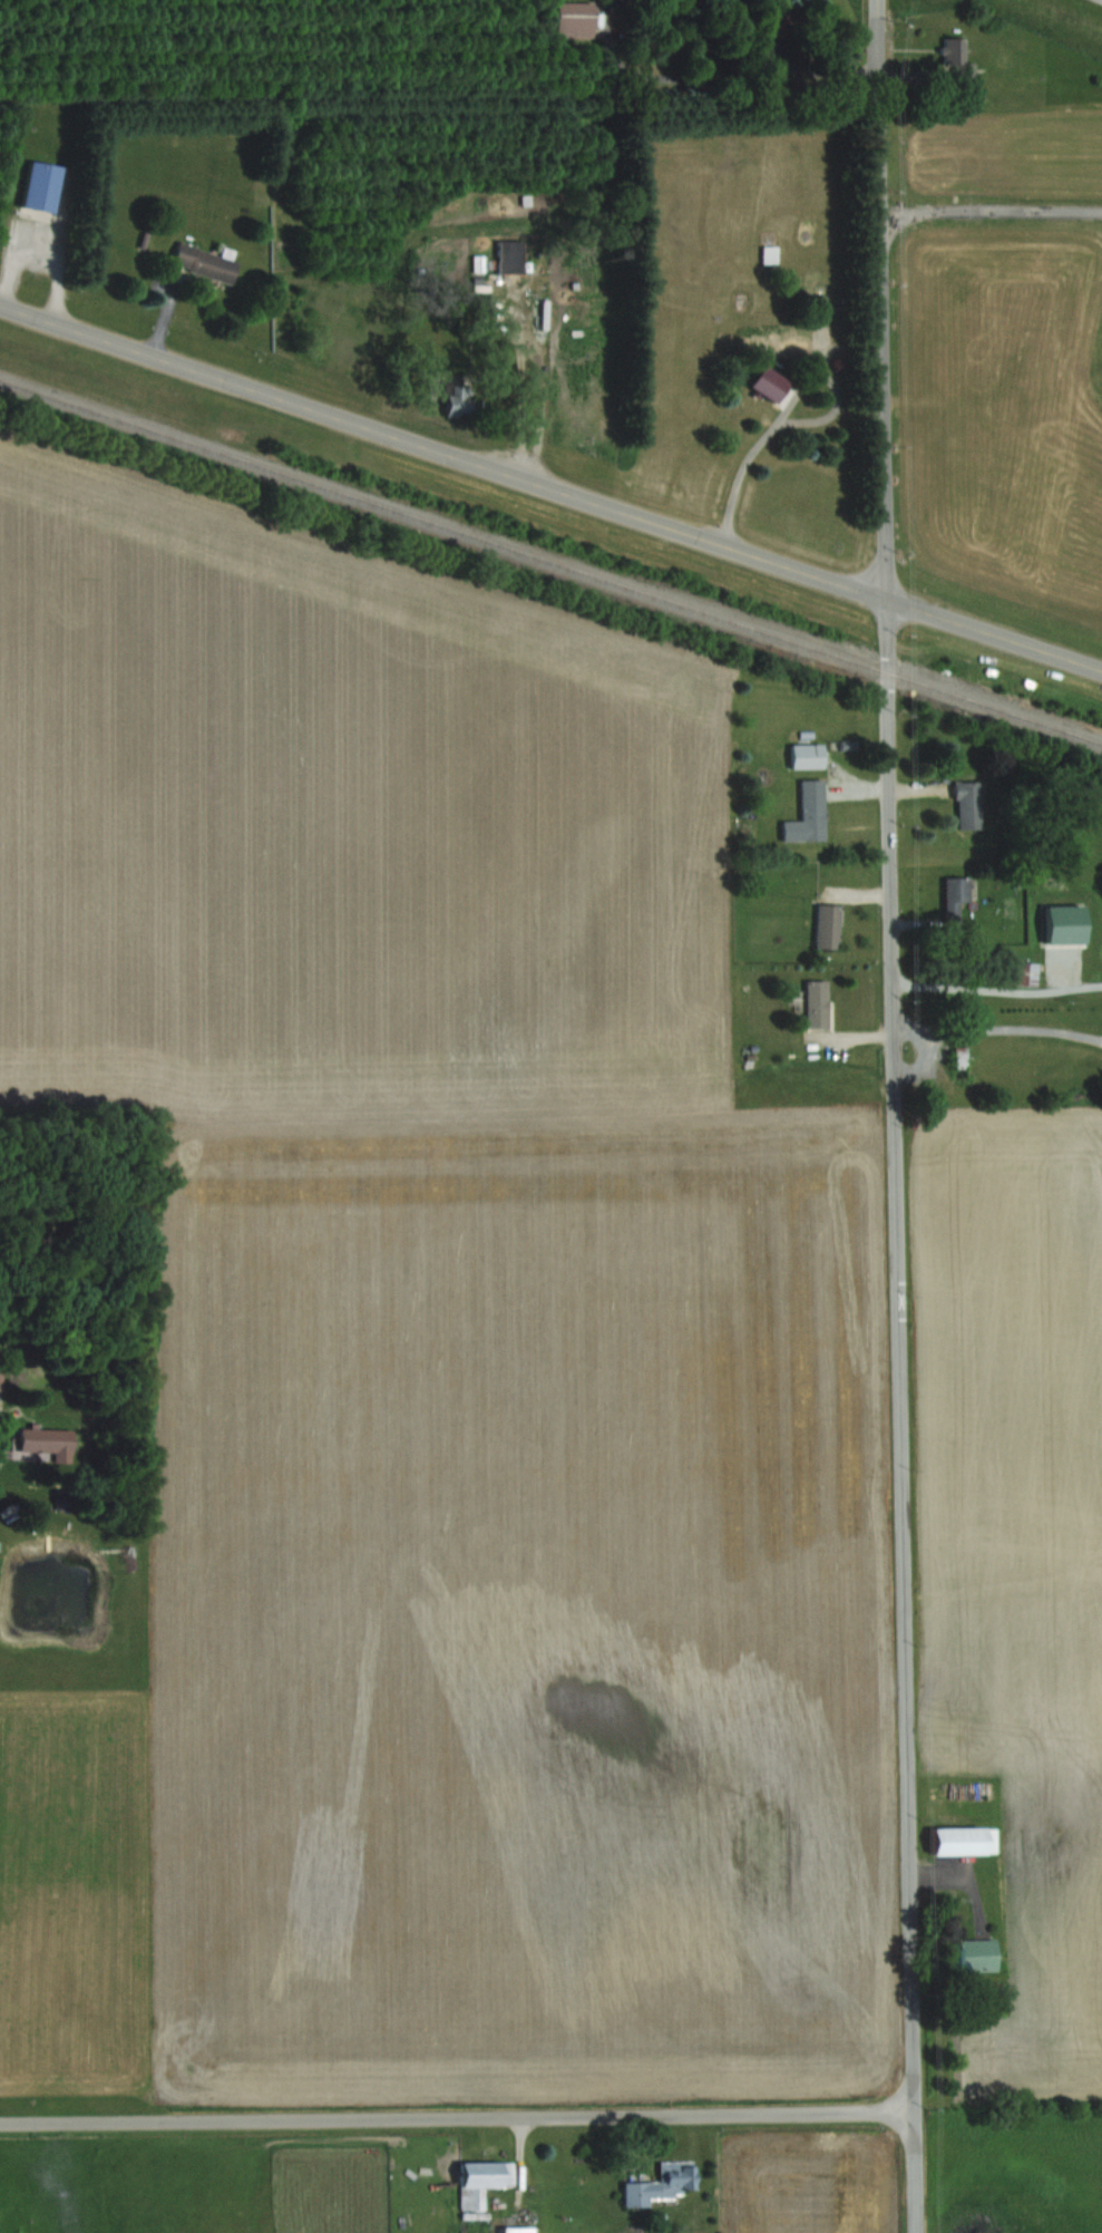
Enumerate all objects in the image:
building: (575, 18)
building: (957, 59)
road: (714, 71)
building: (38, 186)
road: (992, 205)
building: (768, 253)
building: (508, 255)
building: (202, 261)
road: (542, 384)
building: (452, 401)
road: (777, 407)
building: (944, 436)
road: (550, 486)
railway: (550, 559)
building: (806, 754)
building: (968, 804)
building: (807, 813)
building: (953, 899)
building: (825, 925)
building: (1023, 972)
road: (998, 988)
building: (815, 1003)
road: (999, 1029)
road: (919, 1058)
building: (958, 1058)
road: (897, 1116)
building: (46, 1440)
building: (962, 1838)
building: (973, 1954)
road: (457, 2117)
building: (481, 2178)
building: (657, 2183)
building: (518, 2229)

